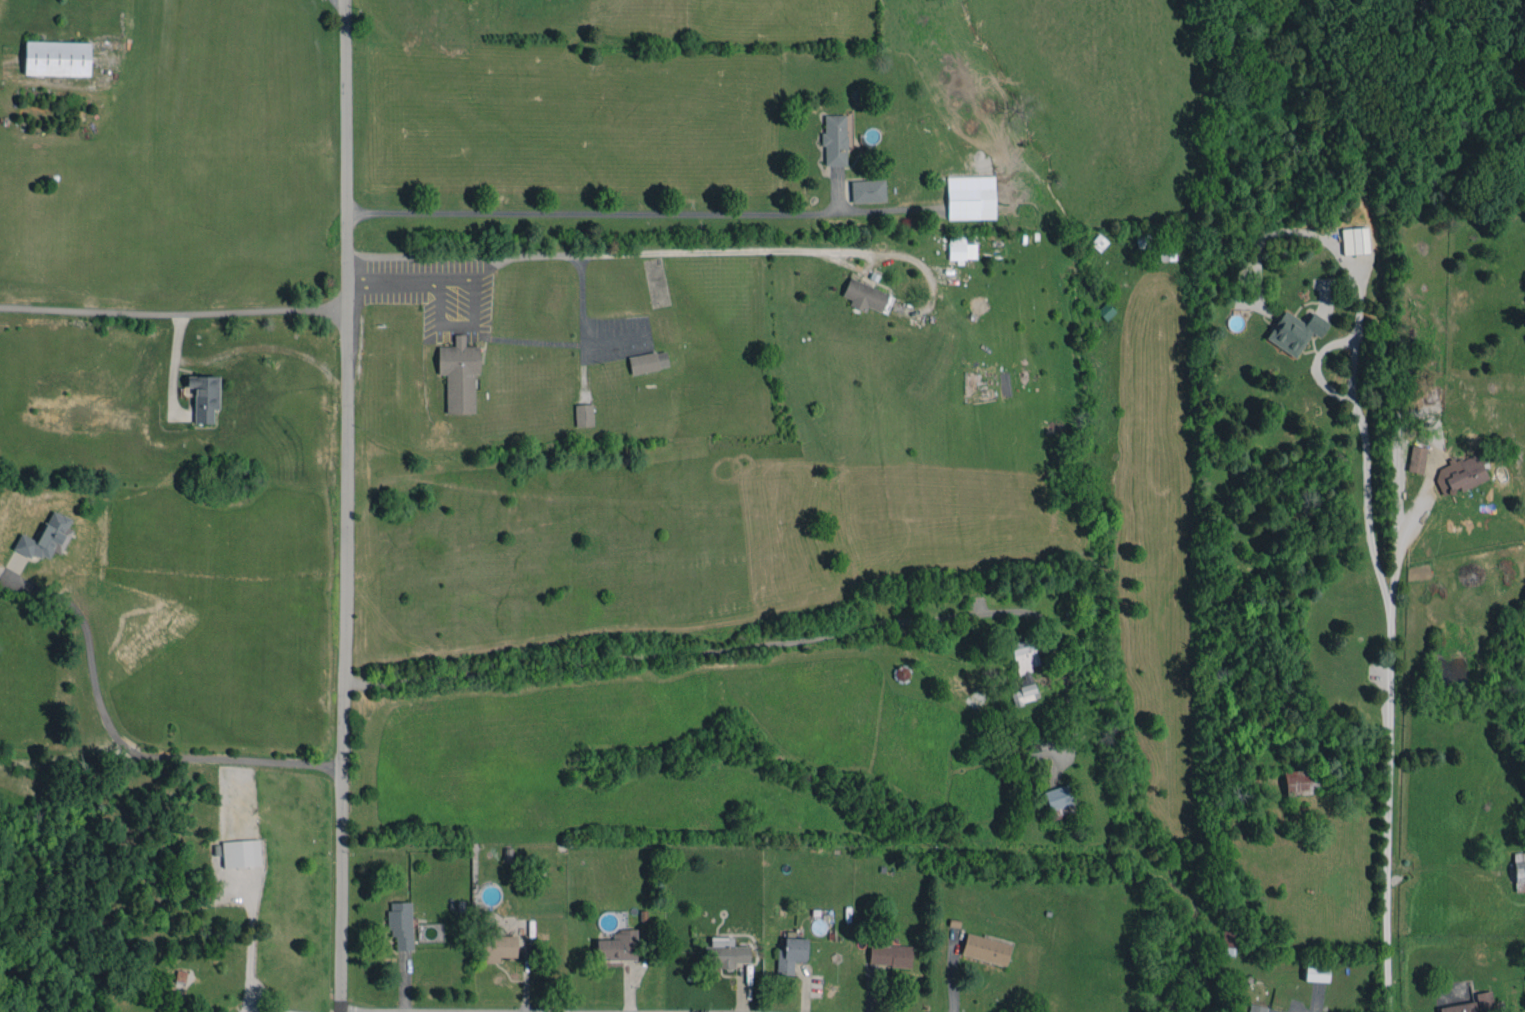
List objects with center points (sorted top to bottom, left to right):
road: (343, 1)
building: (57, 58)
building: (834, 140)
building: (867, 190)
building: (970, 197)
road: (641, 208)
building: (1143, 240)
building: (1355, 240)
building: (1098, 242)
building: (961, 249)
road: (722, 251)
road: (530, 252)
road: (387, 277)
building: (864, 295)
road: (172, 309)
building: (1295, 331)
building: (648, 361)
building: (458, 374)
building: (204, 397)
building: (583, 415)
road: (1399, 434)
building: (1417, 459)
building: (1461, 473)
road: (1368, 474)
road: (346, 506)
building: (46, 537)
road: (659, 653)
building: (1023, 694)
road: (122, 746)
building: (1032, 753)
building: (1300, 782)
building: (1057, 797)
road: (1390, 808)
building: (241, 853)
building: (1519, 871)
building: (400, 924)
building: (1228, 937)
building: (497, 945)
building: (617, 945)
road: (246, 947)
building: (985, 948)
building: (724, 953)
building: (790, 954)
building: (889, 954)
building: (1316, 972)
building: (180, 977)
building: (1484, 1001)
building: (1459, 1007)
building: (1257, 1008)

